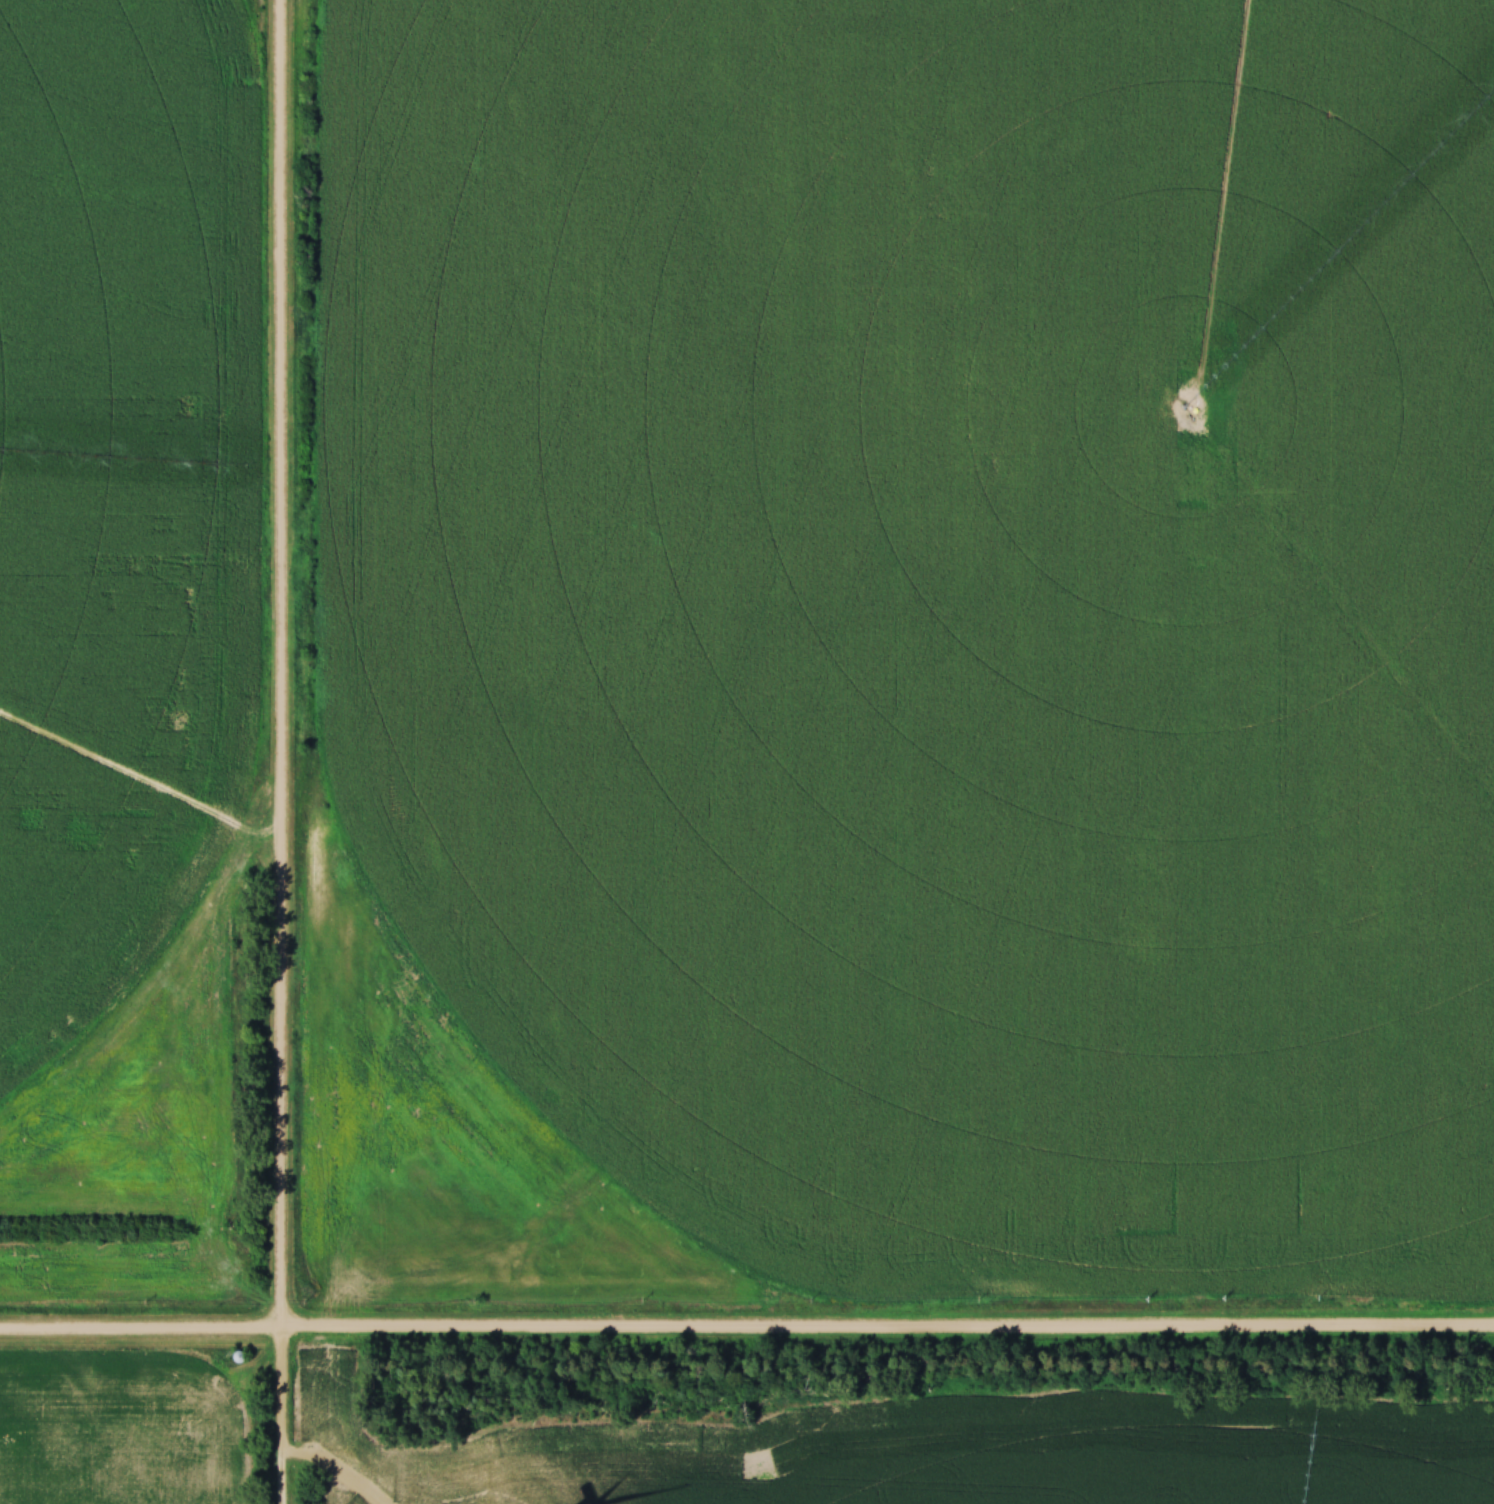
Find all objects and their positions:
road: (283, 752)
road: (746, 1330)

